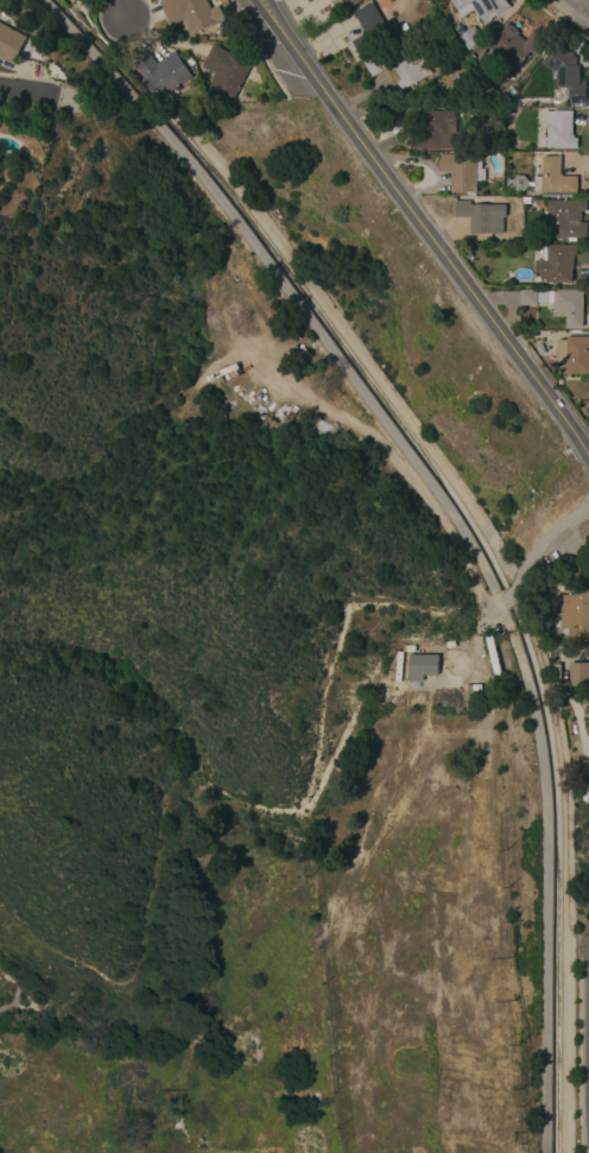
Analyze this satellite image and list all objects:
building: (75, 0)
building: (309, 0)
building: (350, 2)
building: (481, 7)
road: (574, 8)
road: (122, 9)
building: (191, 13)
building: (77, 15)
building: (372, 26)
building: (404, 27)
building: (470, 38)
building: (9, 43)
building: (514, 45)
building: (399, 62)
building: (224, 71)
building: (564, 71)
building: (163, 72)
road: (25, 91)
building: (498, 114)
building: (436, 129)
building: (558, 129)
building: (462, 172)
building: (545, 180)
building: (481, 216)
building: (565, 218)
road: (423, 229)
building: (555, 262)
building: (527, 297)
building: (564, 304)
building: (575, 354)
road: (547, 541)
road: (507, 591)
road: (500, 600)
road: (492, 608)
building: (574, 613)
building: (450, 644)
building: (461, 644)
building: (493, 655)
building: (423, 661)
building: (394, 663)
building: (556, 671)
building: (579, 674)
building: (379, 695)
building: (473, 697)

